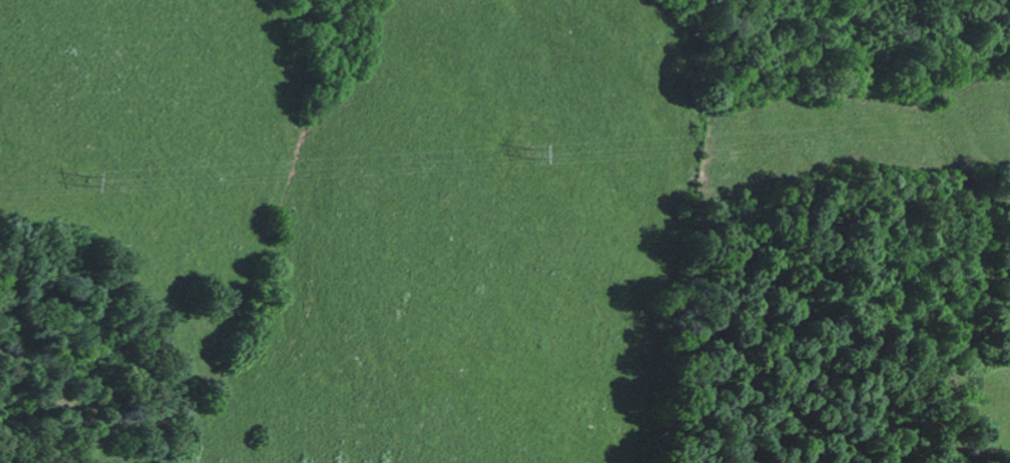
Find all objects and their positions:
power tower: (536, 160)
power tower: (88, 189)

